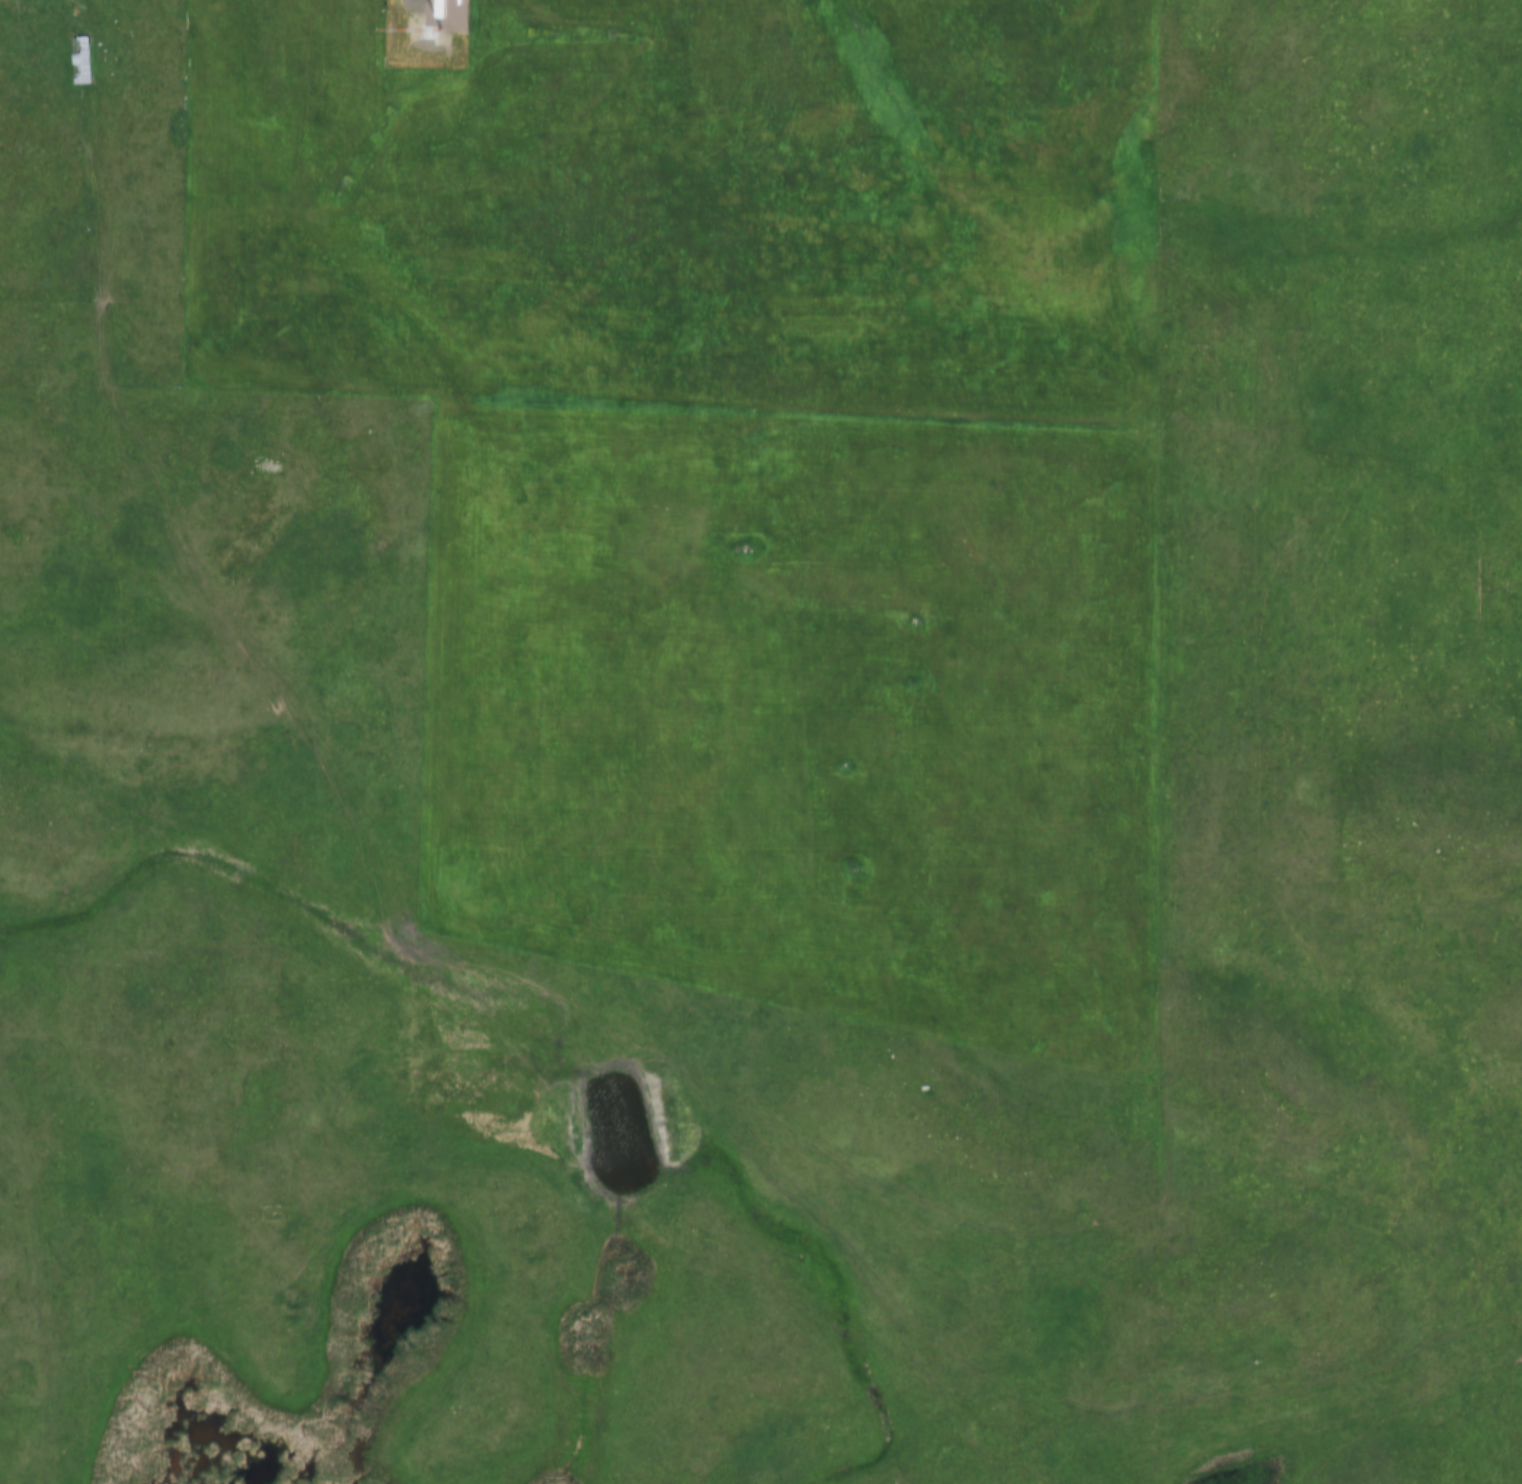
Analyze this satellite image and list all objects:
storage tank: (430, 12)
building: (428, 31)
building: (78, 60)

